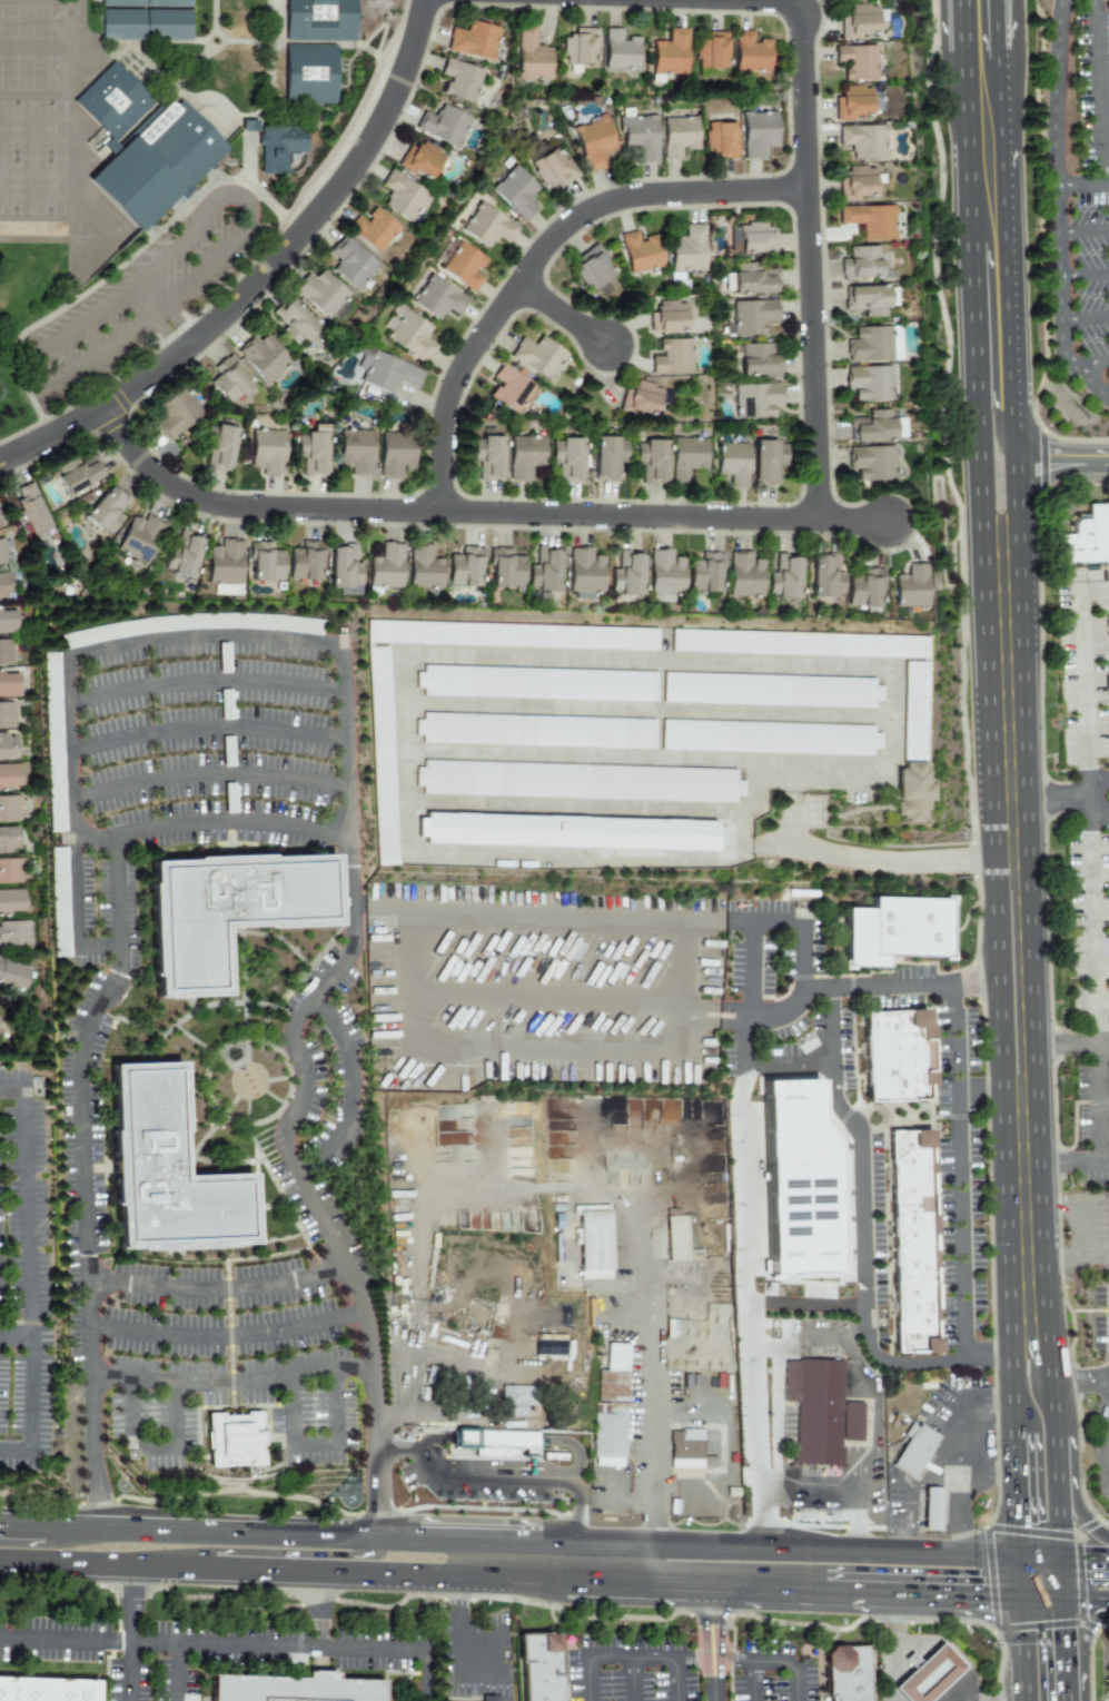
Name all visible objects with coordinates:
building: (126, 3)
building: (171, 3)
building: (324, 20)
building: (859, 21)
road: (994, 26)
building: (126, 27)
building: (170, 27)
building: (473, 40)
building: (578, 49)
building: (618, 50)
building: (711, 53)
building: (750, 53)
building: (669, 55)
building: (531, 56)
building: (855, 60)
building: (313, 77)
building: (461, 79)
road: (1098, 91)
building: (113, 103)
building: (853, 103)
building: (444, 125)
building: (758, 132)
building: (679, 136)
building: (637, 137)
building: (720, 139)
building: (862, 141)
building: (593, 142)
building: (181, 147)
building: (283, 150)
building: (420, 159)
building: (546, 165)
building: (858, 184)
road: (1081, 185)
building: (138, 190)
building: (515, 191)
building: (402, 196)
road: (1056, 209)
building: (868, 220)
building: (486, 226)
building: (374, 229)
road: (1082, 233)
building: (752, 238)
road: (809, 246)
building: (687, 248)
building: (640, 251)
road: (1003, 253)
road: (539, 257)
building: (351, 263)
building: (459, 264)
building: (862, 264)
building: (593, 268)
road: (972, 273)
road: (263, 275)
road: (138, 276)
road: (1083, 276)
building: (751, 279)
parking lot: (1081, 283)
building: (323, 294)
building: (436, 297)
building: (869, 298)
road: (565, 317)
building: (666, 317)
building: (751, 317)
road: (1085, 319)
building: (295, 322)
road: (178, 325)
building: (408, 333)
road: (167, 335)
building: (873, 344)
building: (536, 356)
building: (672, 356)
building: (264, 357)
building: (756, 360)
road: (1089, 363)
building: (388, 373)
building: (231, 382)
building: (871, 382)
building: (509, 387)
building: (641, 399)
building: (755, 399)
park: (12, 409)
building: (176, 413)
road: (989, 414)
building: (875, 426)
building: (219, 445)
building: (267, 449)
building: (311, 449)
building: (355, 449)
building: (395, 453)
building: (487, 456)
building: (524, 456)
building: (566, 456)
building: (606, 456)
road: (1059, 456)
building: (687, 457)
building: (651, 459)
building: (766, 459)
building: (871, 462)
building: (732, 463)
building: (77, 473)
road: (1011, 498)
building: (30, 510)
building: (105, 511)
road: (440, 513)
road: (855, 523)
building: (0, 525)
building: (1087, 537)
building: (140, 538)
building: (2, 552)
building: (184, 557)
building: (264, 562)
building: (305, 563)
building: (385, 566)
building: (225, 567)
building: (343, 567)
building: (466, 567)
building: (504, 567)
building: (424, 568)
building: (544, 571)
building: (584, 573)
building: (705, 573)
building: (664, 574)
building: (626, 575)
building: (744, 575)
building: (824, 578)
building: (784, 580)
road: (1096, 581)
building: (7, 586)
building: (909, 587)
building: (865, 589)
building: (8, 621)
building: (513, 635)
road: (195, 637)
building: (800, 644)
building: (372, 645)
building: (6, 652)
building: (9, 683)
building: (539, 683)
road: (204, 685)
building: (772, 691)
road: (1007, 696)
road: (403, 703)
road: (647, 710)
building: (915, 710)
building: (7, 714)
road: (206, 730)
building: (538, 731)
building: (772, 738)
building: (52, 742)
building: (7, 745)
building: (383, 755)
road: (207, 771)
building: (9, 777)
building: (917, 781)
building: (580, 782)
road: (1089, 797)
road: (1049, 800)
road: (587, 807)
building: (10, 808)
building: (913, 809)
road: (169, 824)
building: (568, 832)
building: (8, 839)
building: (11, 871)
road: (1089, 874)
building: (12, 902)
building: (58, 902)
road: (78, 904)
building: (235, 906)
road: (379, 910)
road: (802, 931)
building: (897, 931)
building: (16, 933)
road: (1032, 973)
road: (999, 975)
building: (13, 976)
road: (973, 985)
road: (546, 997)
road: (1101, 1000)
road: (743, 1003)
road: (829, 1013)
building: (0, 1028)
road: (412, 1045)
road: (1072, 1046)
building: (902, 1052)
building: (867, 1094)
road: (988, 1095)
building: (171, 1161)
road: (1065, 1169)
building: (912, 1173)
building: (796, 1178)
road: (422, 1198)
road: (1075, 1208)
building: (1108, 1210)
road: (764, 1213)
road: (1026, 1235)
building: (675, 1238)
building: (600, 1240)
building: (914, 1249)
road: (1068, 1255)
road: (28, 1274)
road: (214, 1287)
road: (357, 1307)
building: (915, 1318)
road: (225, 1336)
road: (14, 1337)
road: (839, 1341)
building: (548, 1345)
road: (654, 1362)
road: (1069, 1374)
building: (614, 1375)
road: (231, 1381)
road: (1107, 1397)
building: (518, 1398)
road: (1056, 1401)
road: (1009, 1402)
building: (818, 1411)
building: (615, 1431)
building: (244, 1441)
building: (496, 1443)
road: (315, 1445)
building: (691, 1448)
road: (773, 1448)
building: (917, 1451)
road: (406, 1453)
building: (556, 1454)
road: (935, 1454)
road: (156, 1457)
road: (977, 1461)
road: (1060, 1465)
road: (863, 1473)
road: (1099, 1477)
building: (1108, 1477)
road: (547, 1483)
road: (968, 1487)
road: (377, 1494)
road: (1012, 1494)
building: (930, 1509)
road: (1081, 1520)
traffic signals: (1012, 1521)
road: (1061, 1523)
road: (959, 1527)
road: (270, 1533)
road: (778, 1549)
road: (1038, 1553)
road: (1086, 1553)
traffic signals: (1092, 1554)
road: (336, 1562)
road: (105, 1565)
road: (248, 1569)
road: (412, 1574)
road: (1013, 1574)
road: (1063, 1574)
road: (551, 1578)
road: (611, 1579)
road: (739, 1583)
road: (834, 1586)
road: (930, 1592)
traffic signals: (982, 1595)
road: (1038, 1595)
road: (1086, 1598)
road: (318, 1608)
road: (132, 1626)
traffic signals: (1065, 1634)
road: (96, 1640)
road: (1065, 1640)
road: (714, 1641)
road: (1082, 1643)
road: (297, 1644)
road: (894, 1646)
road: (1016, 1648)
road: (458, 1651)
road: (1091, 1658)
road: (686, 1659)
building: (545, 1668)
parking lot: (689, 1671)
building: (848, 1673)
building: (929, 1675)
road: (634, 1679)
road: (674, 1680)
road: (754, 1681)
building: (47, 1690)
building: (301, 1691)
road: (1066, 1692)
building: (488, 1699)

